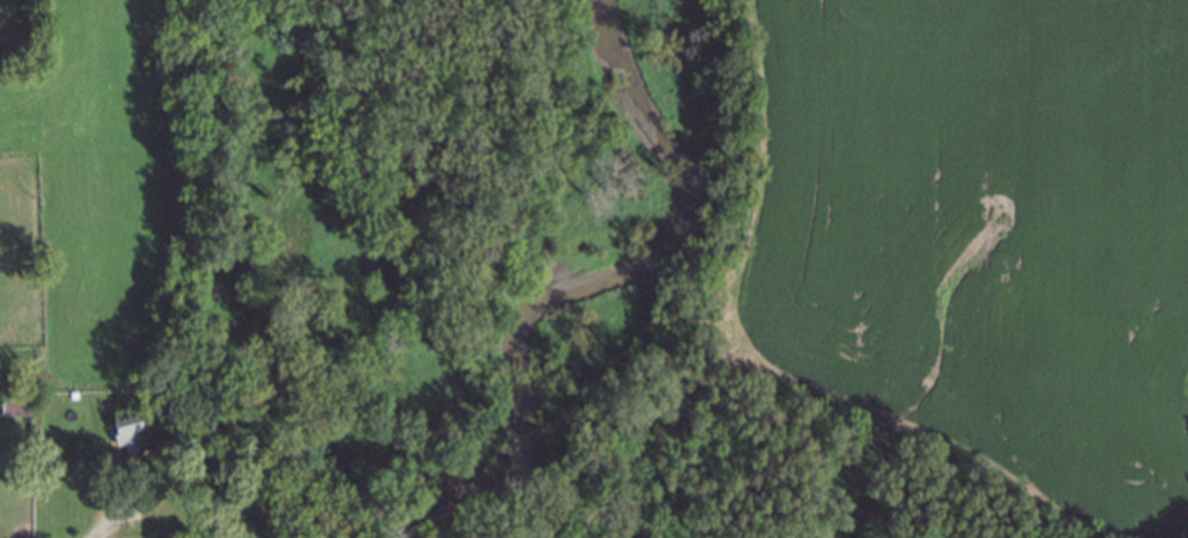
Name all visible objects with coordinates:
crop: (983, 234)
building: (41, 252)
river: (595, 276)
building: (70, 388)
building: (23, 408)
building: (124, 428)
road: (113, 517)

